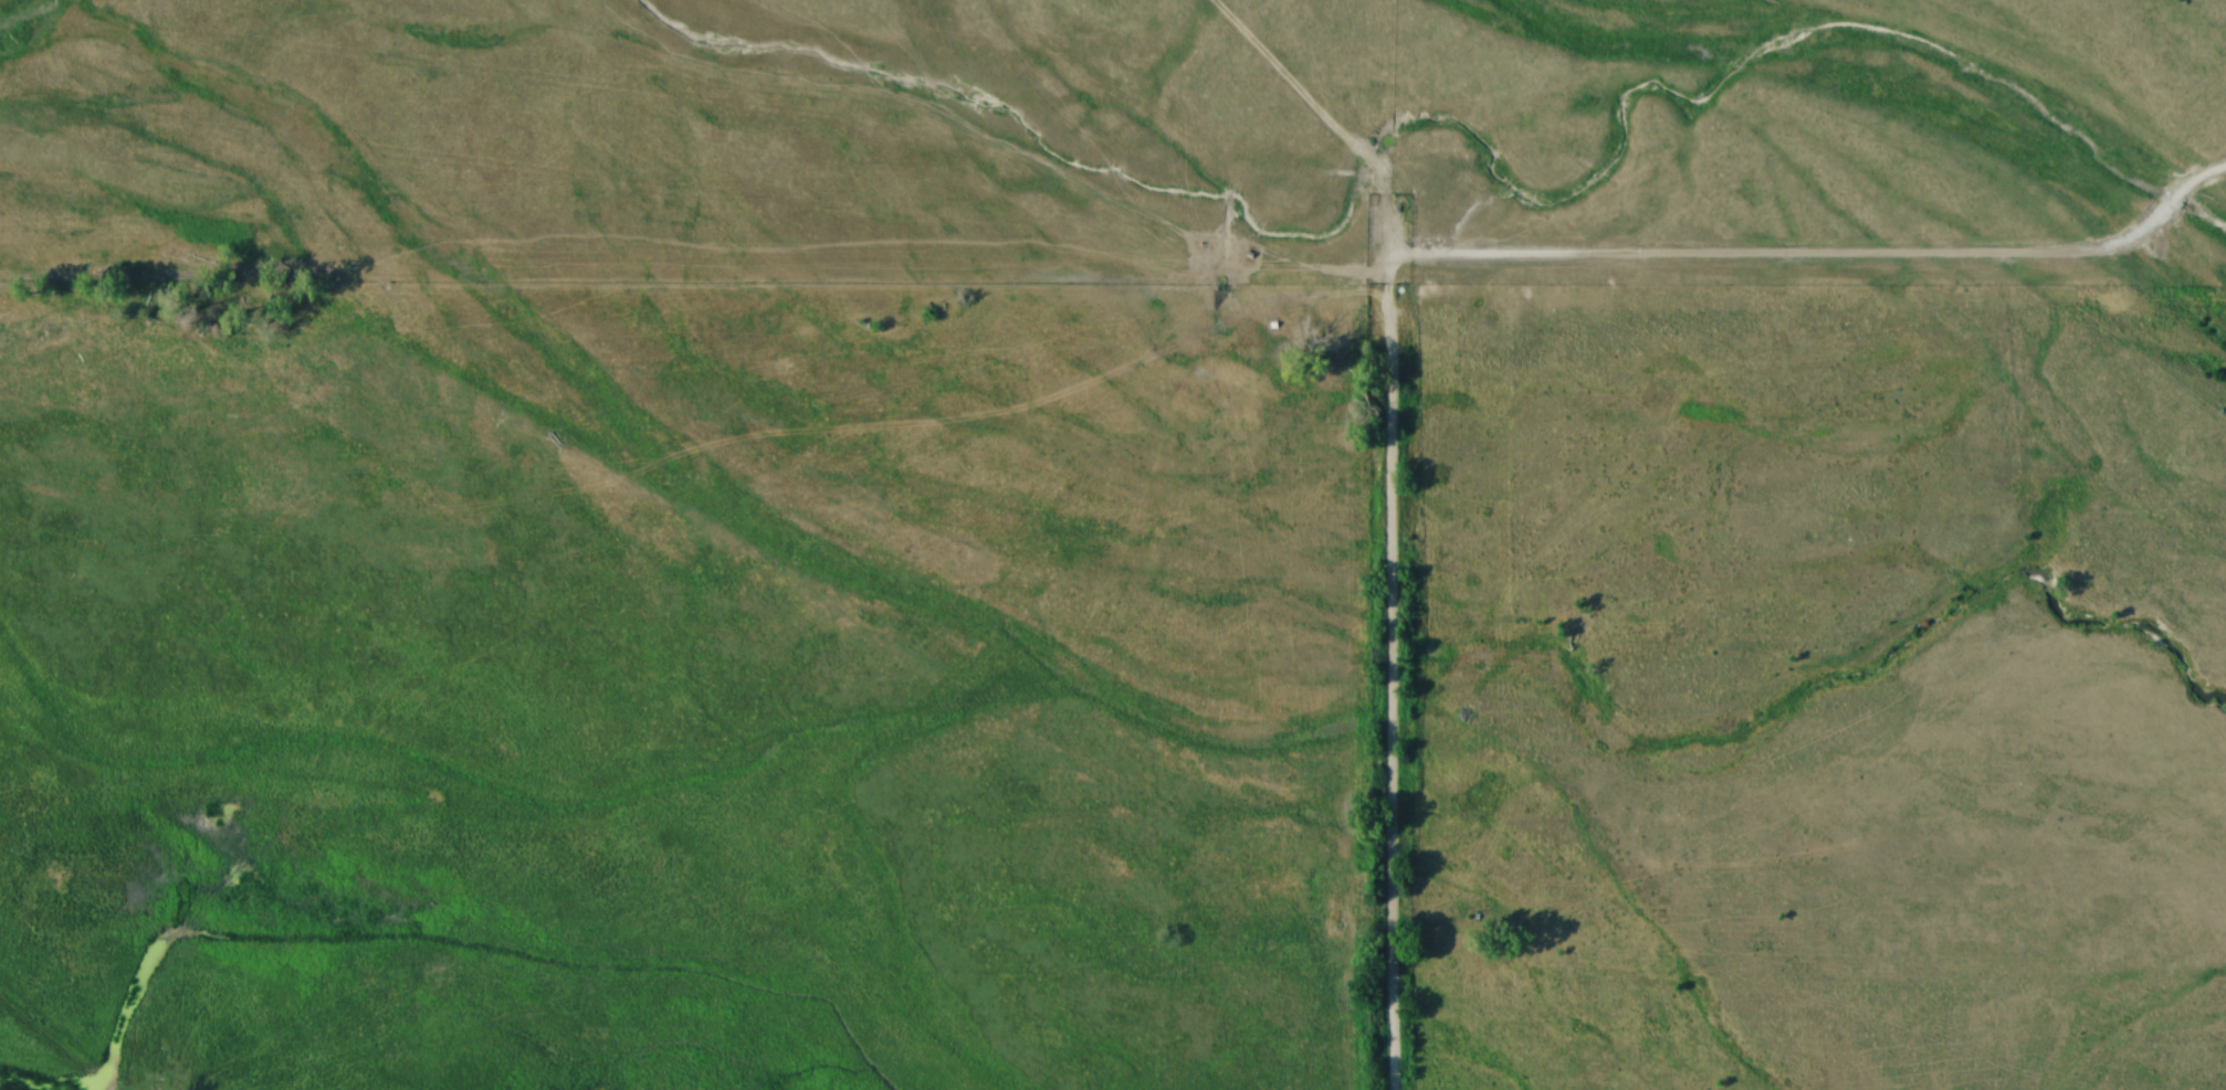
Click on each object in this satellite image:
road: (1388, 929)

